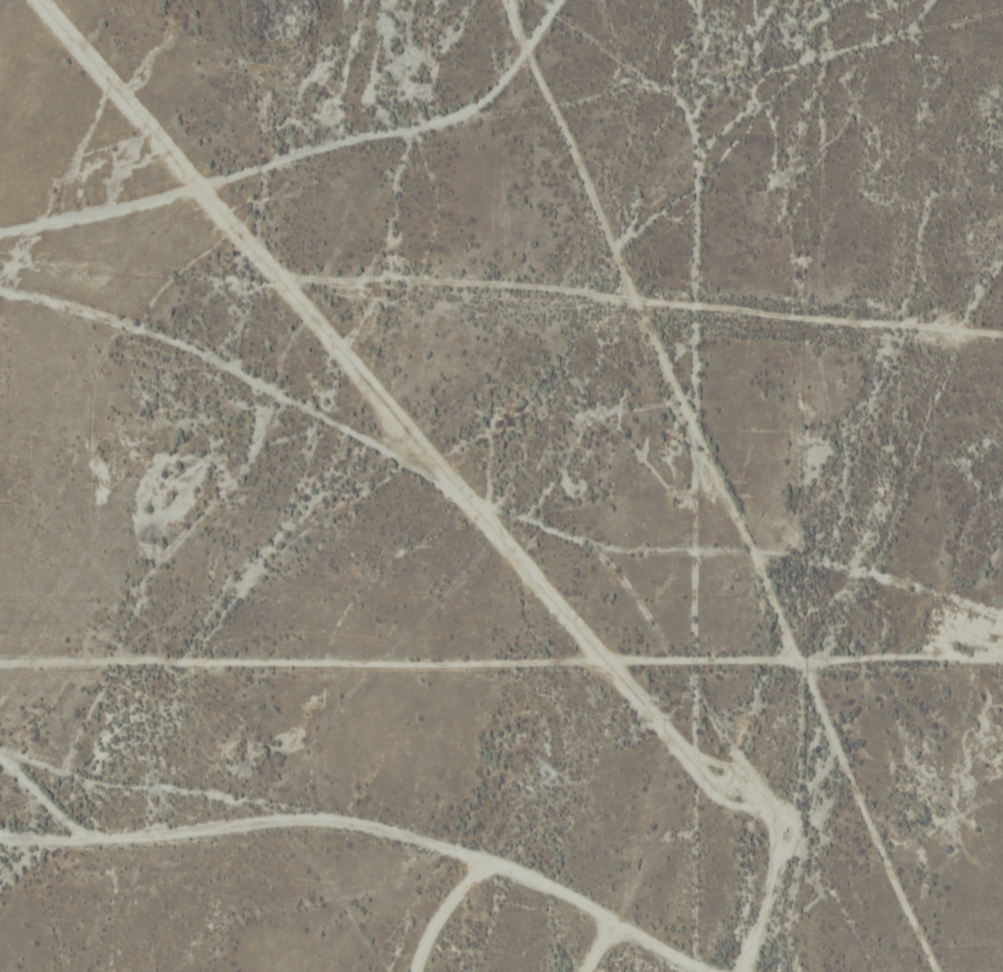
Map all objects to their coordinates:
road: (281, 873)

